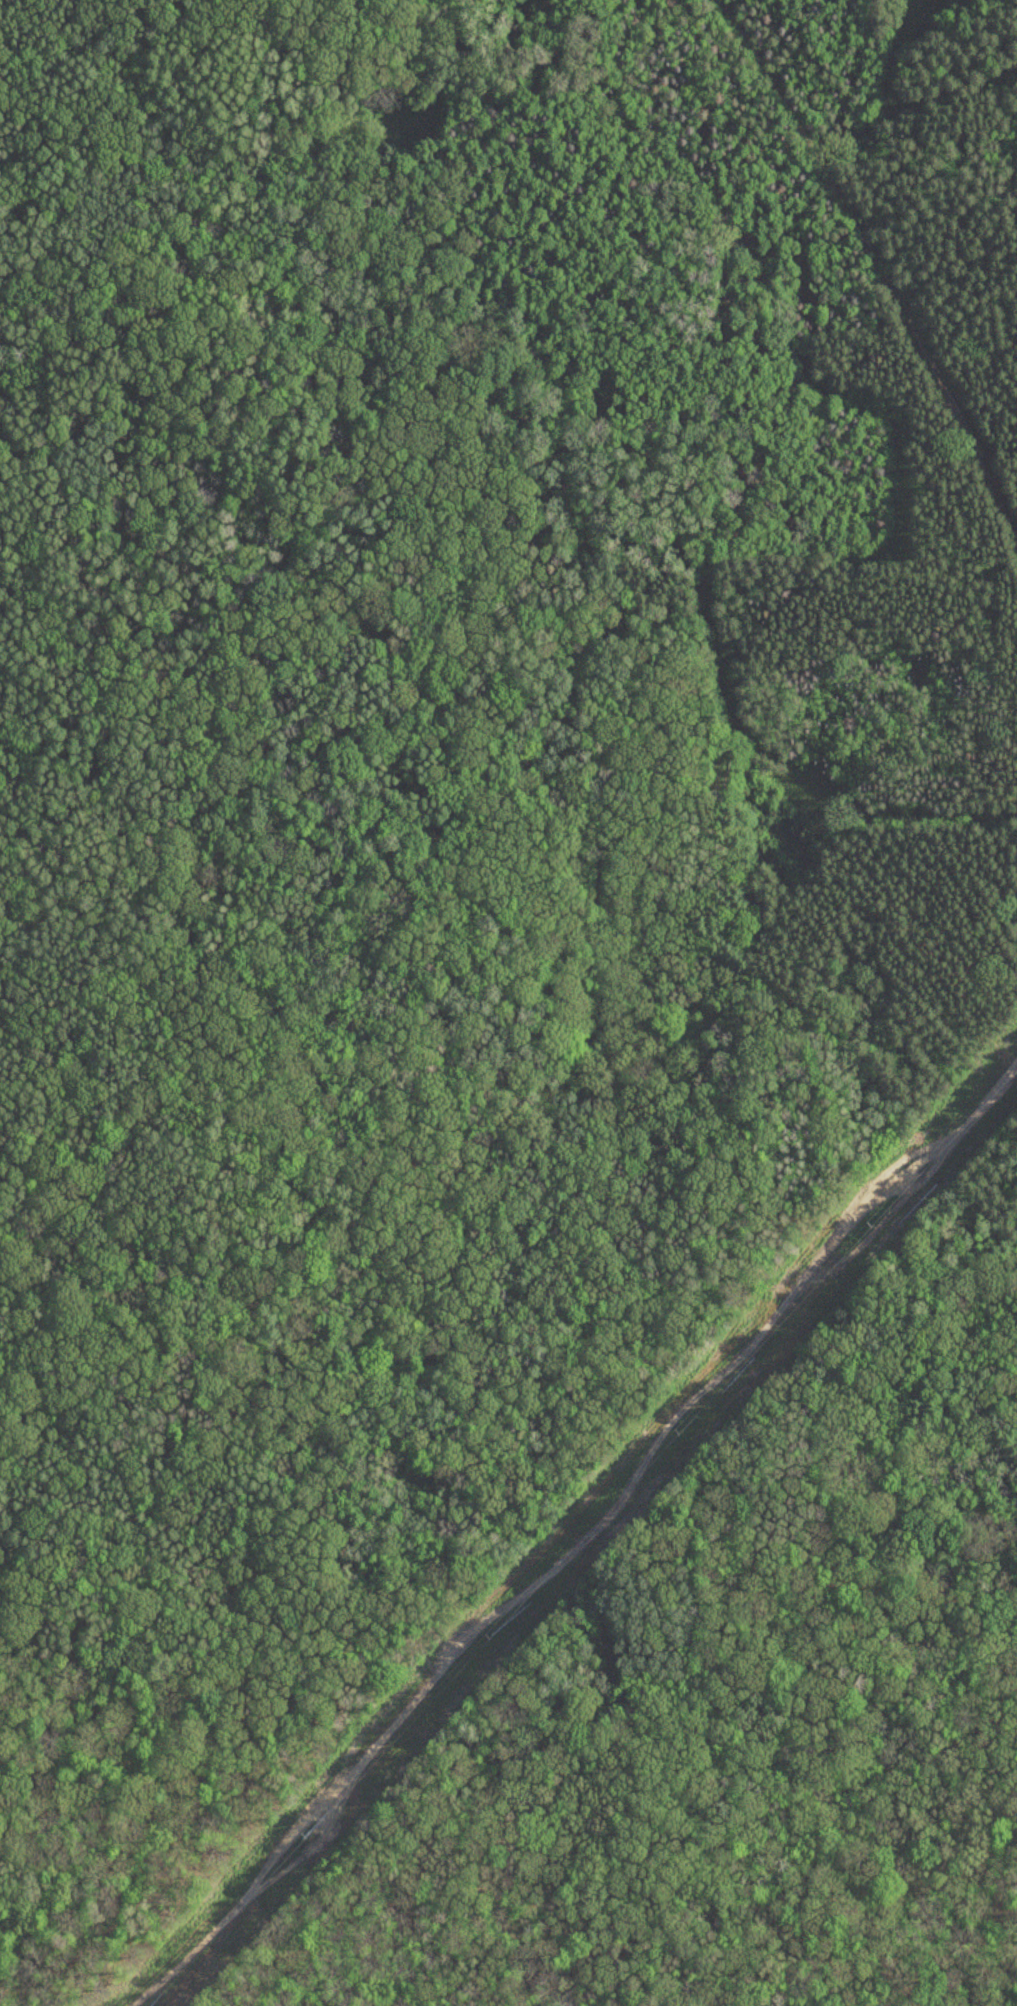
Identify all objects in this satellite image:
road: (877, 266)
park: (508, 1003)

